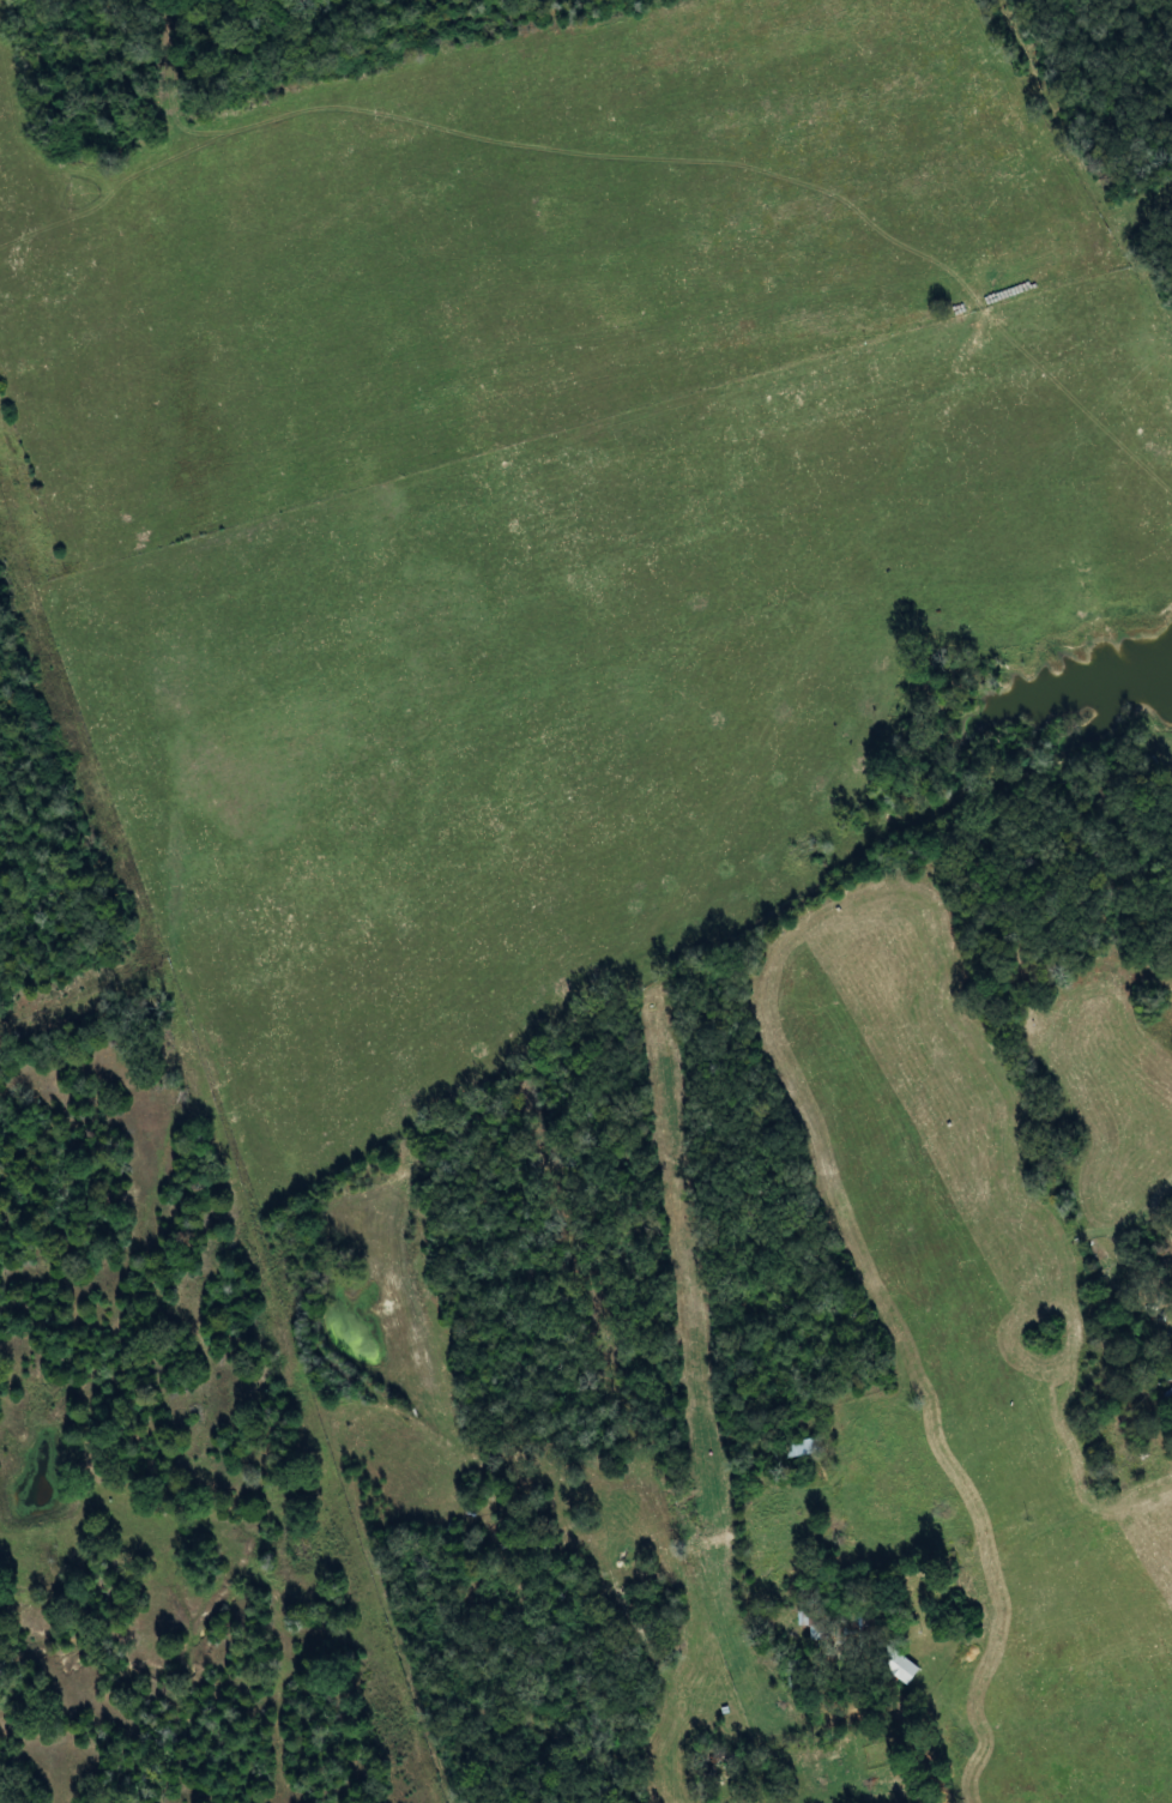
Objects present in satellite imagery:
building: (898, 1662)
road: (923, 1741)

